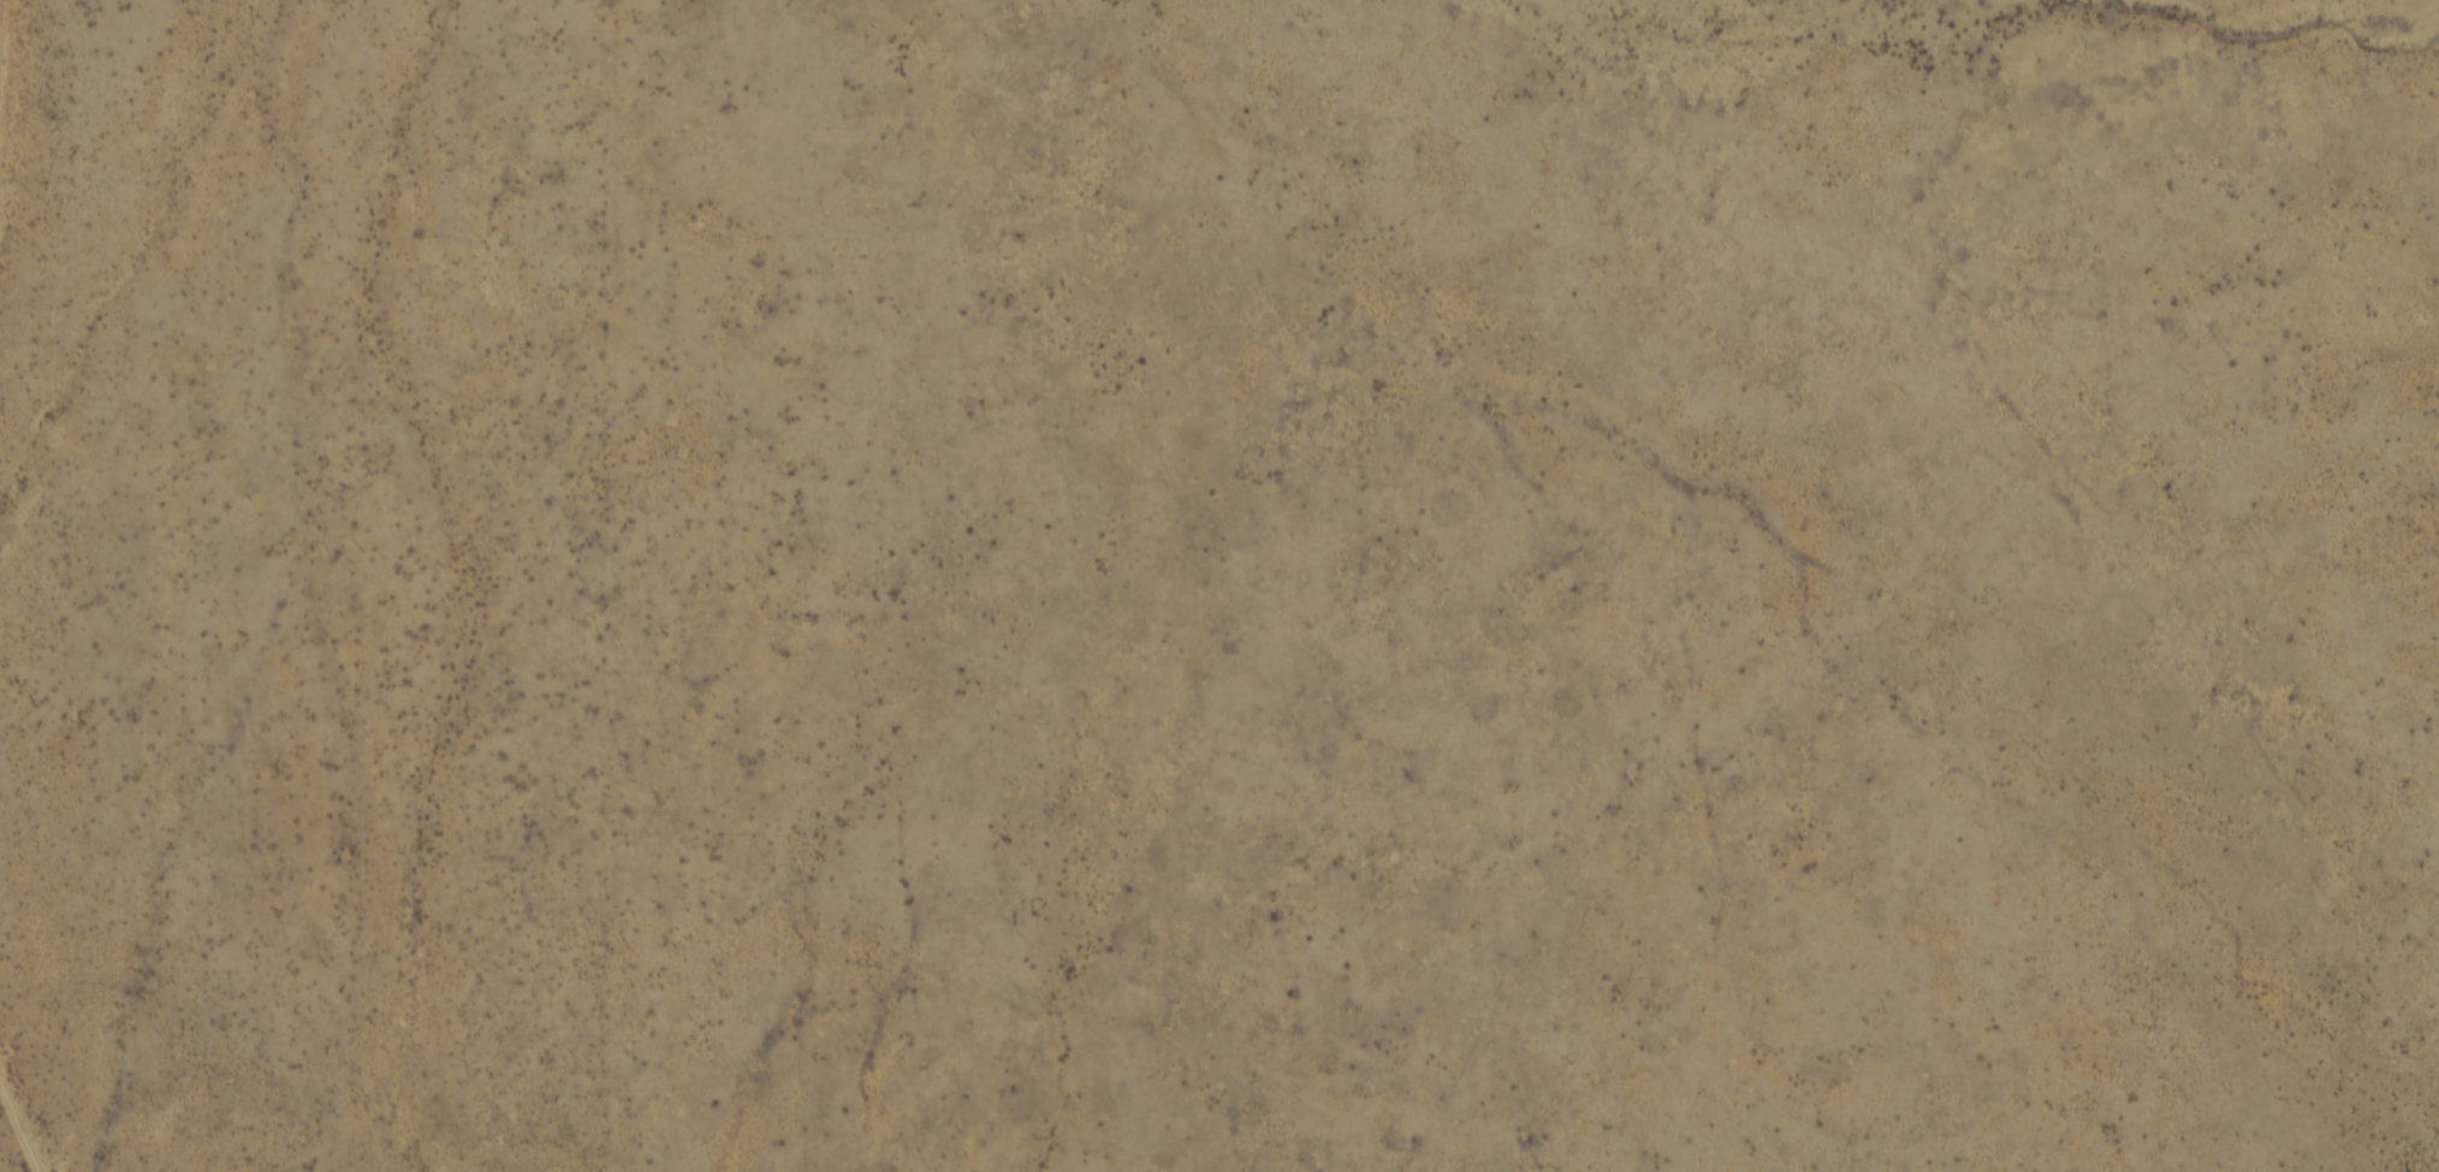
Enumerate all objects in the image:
road: (10, 54)
road: (17, 1126)

